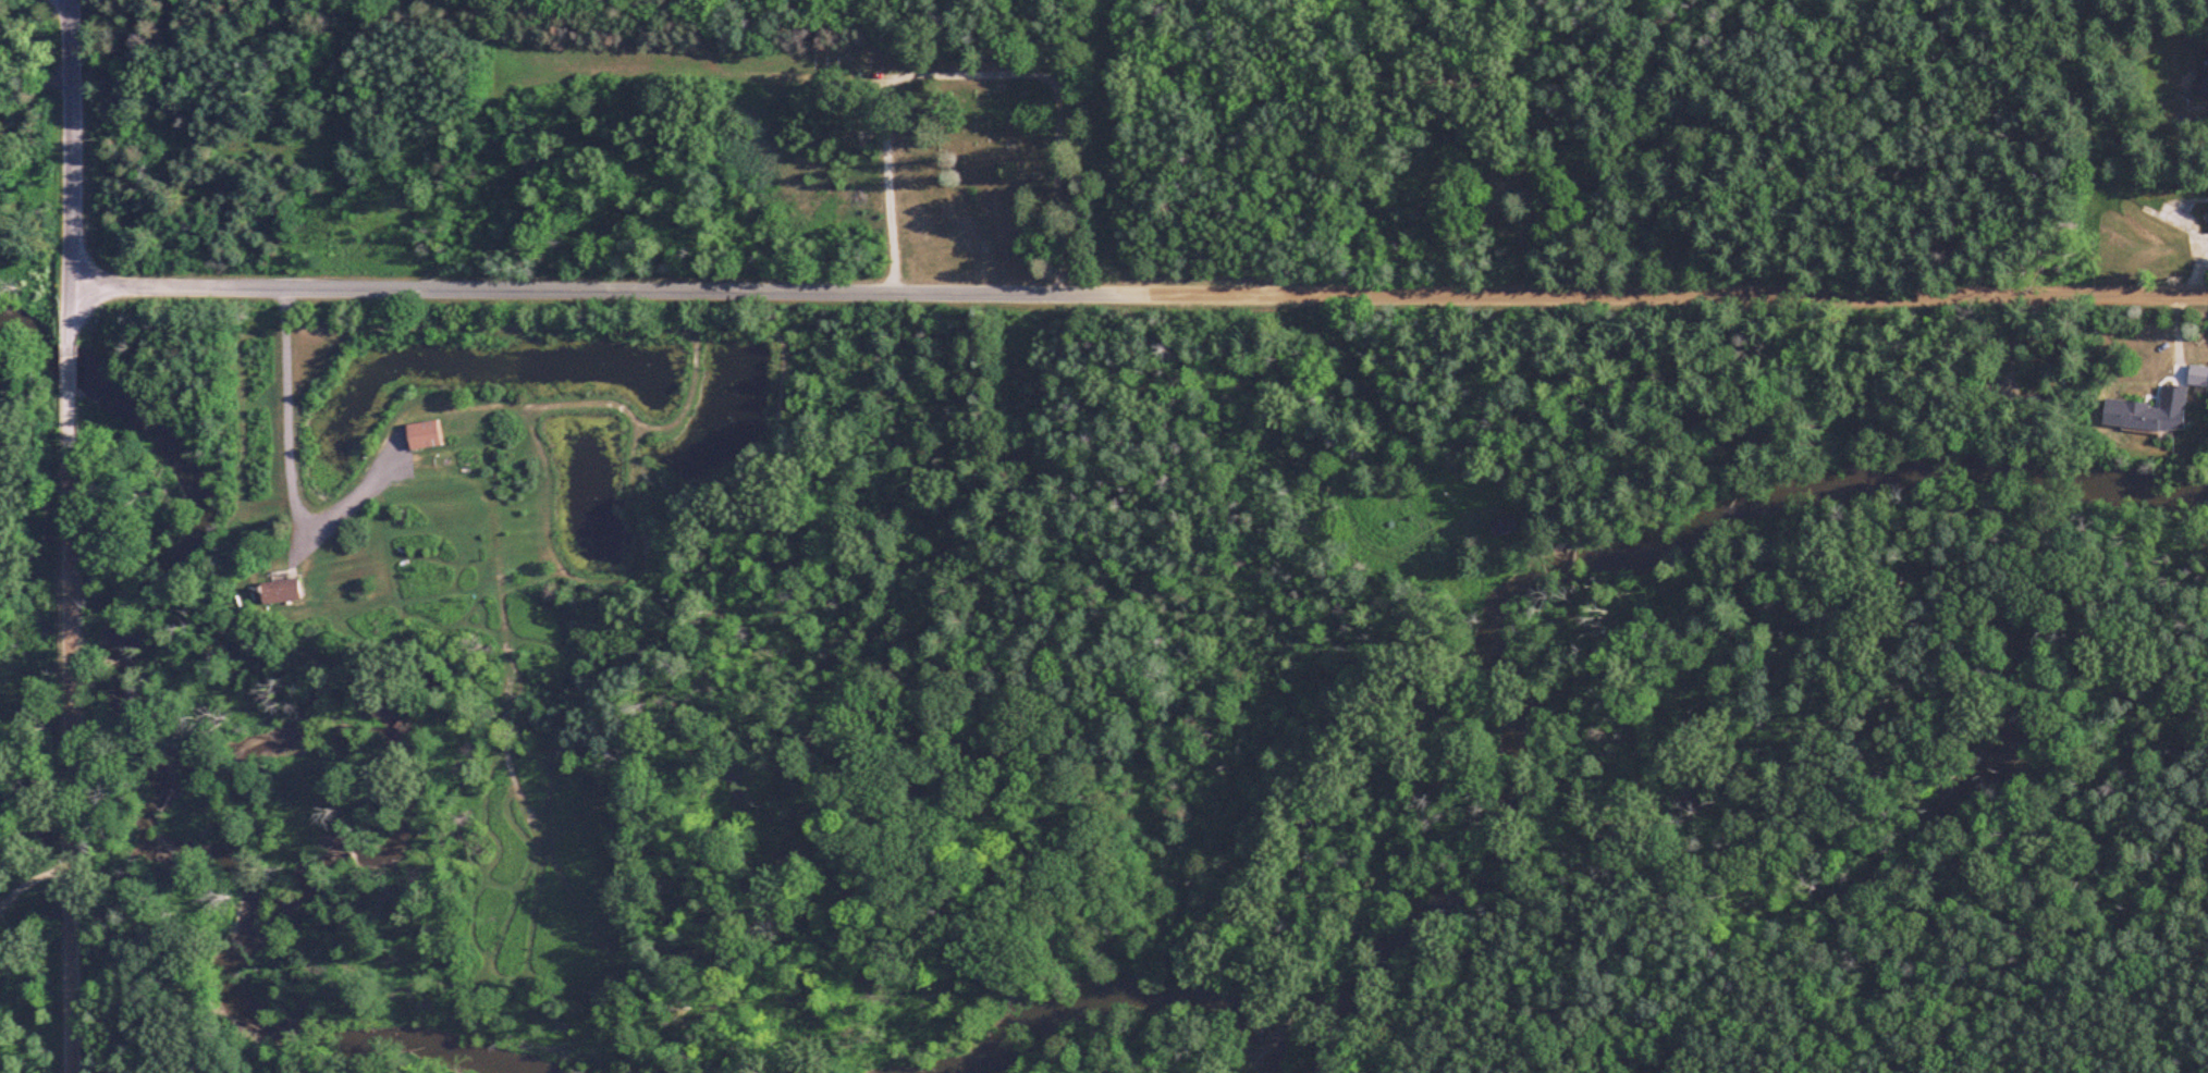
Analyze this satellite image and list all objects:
road: (68, 1)
building: (2201, 77)
road: (72, 182)
road: (1140, 297)
road: (71, 396)
road: (285, 411)
building: (2150, 418)
building: (422, 436)
building: (1500, 527)
river: (1583, 557)
building: (278, 593)
road: (71, 751)
river: (181, 766)
river: (1130, 995)

